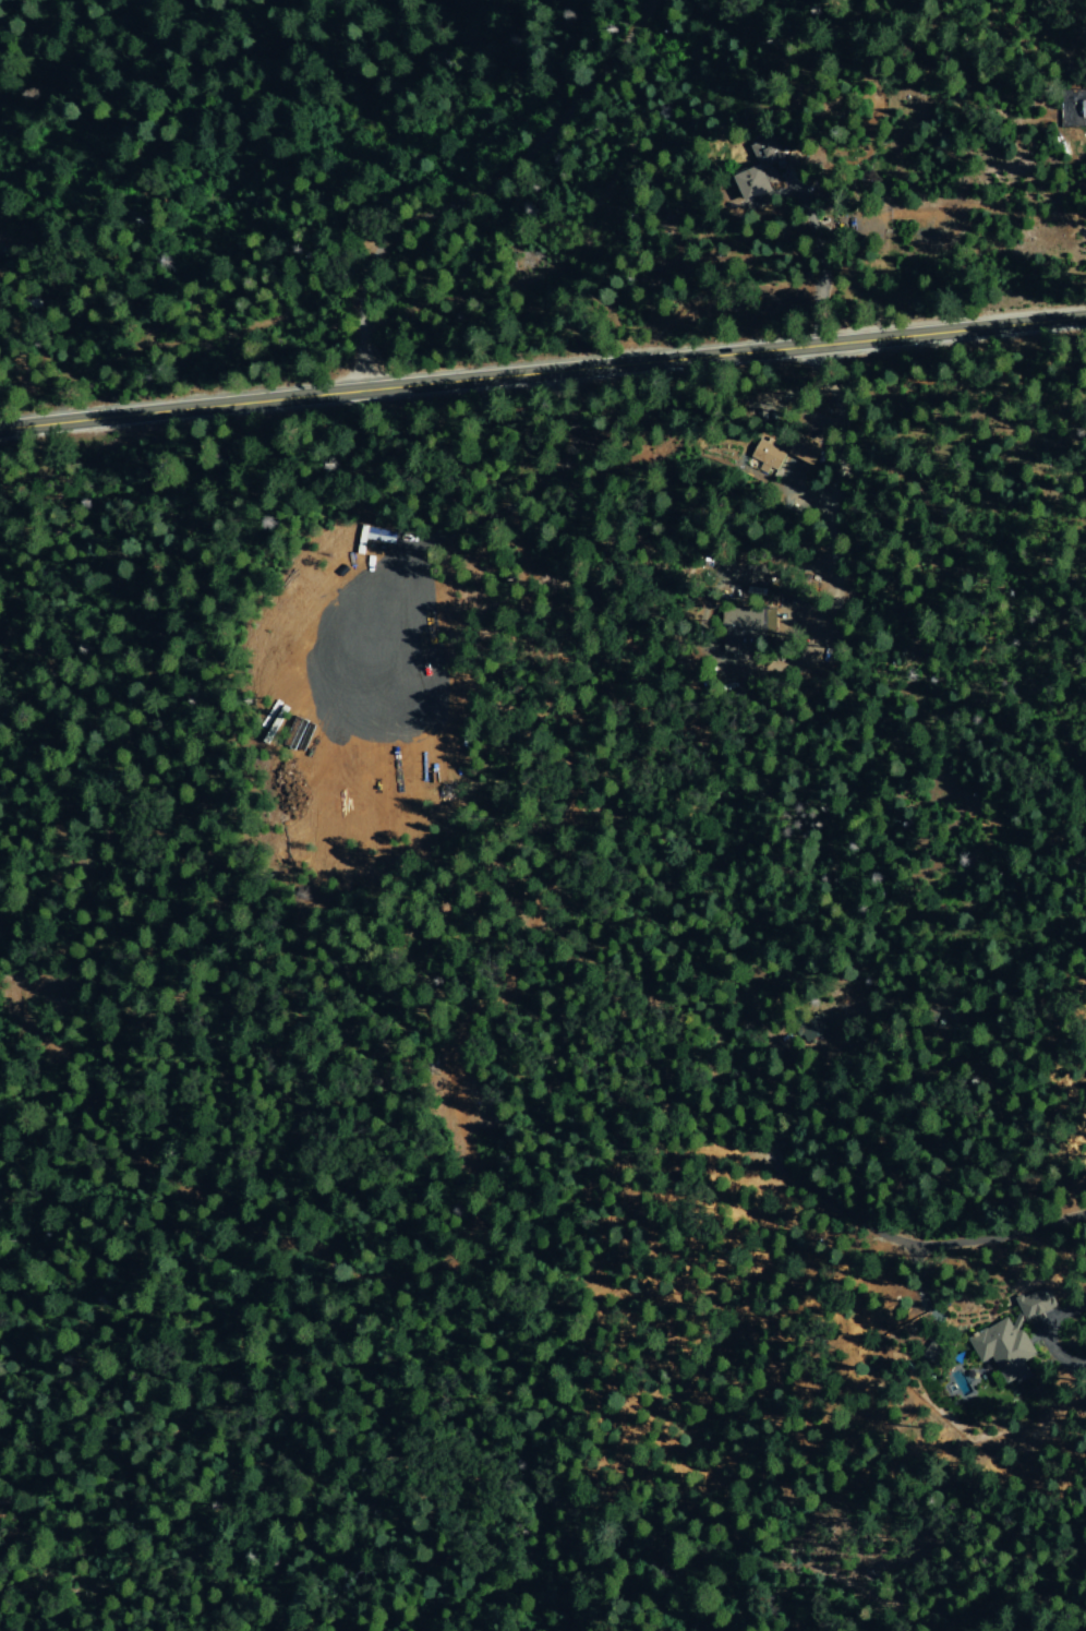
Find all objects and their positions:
building: (761, 168)
road: (478, 189)
road: (818, 260)
road: (542, 371)
road: (547, 397)
building: (767, 454)
building: (384, 533)
road: (917, 1242)
building: (1004, 1343)

